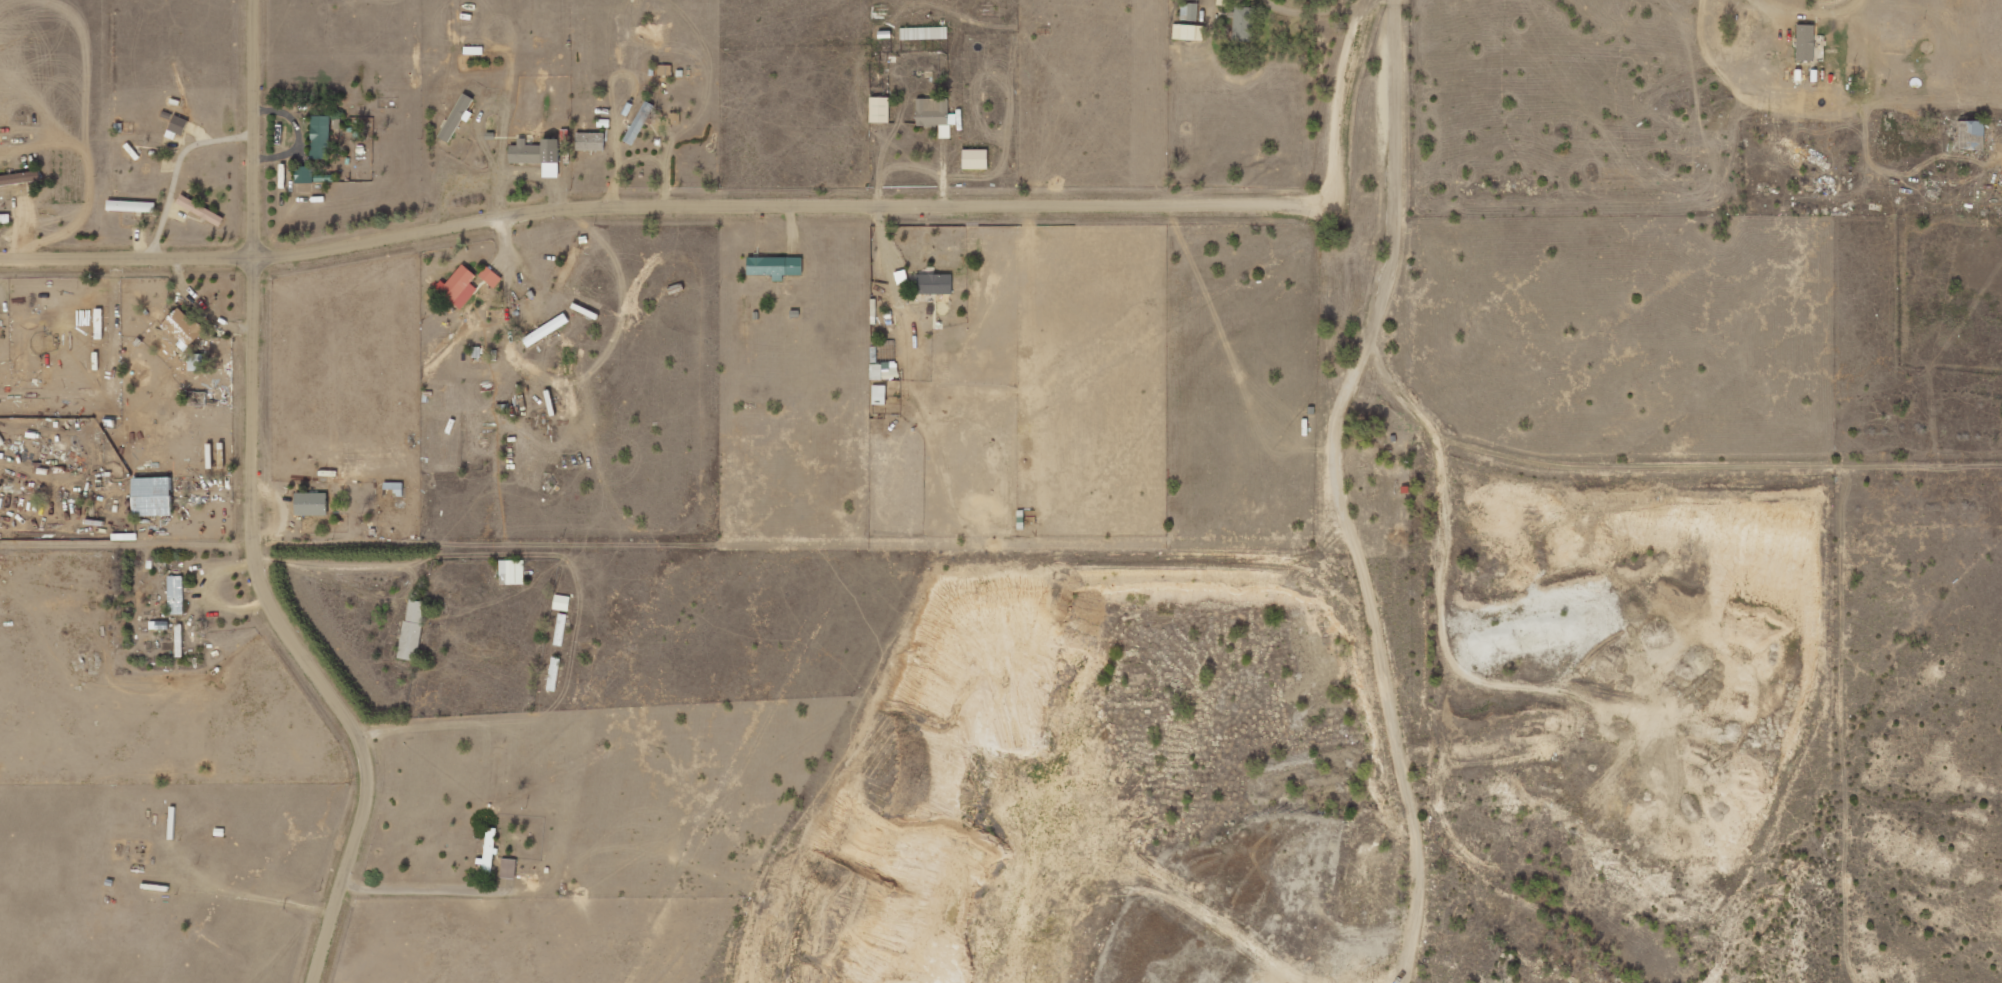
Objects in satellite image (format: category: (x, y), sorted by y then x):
building: (1189, 10)
building: (1243, 23)
building: (1188, 31)
building: (924, 33)
building: (1805, 42)
road: (1708, 56)
building: (664, 70)
road: (1347, 81)
building: (879, 110)
building: (934, 114)
building: (456, 116)
building: (639, 122)
building: (177, 126)
building: (1971, 135)
building: (320, 137)
building: (590, 141)
building: (535, 151)
building: (975, 159)
building: (304, 174)
building: (19, 177)
road: (675, 204)
building: (131, 206)
building: (200, 210)
building: (774, 266)
building: (566, 269)
building: (490, 277)
building: (933, 283)
building: (458, 285)
building: (183, 327)
building: (545, 330)
building: (195, 362)
building: (883, 370)
building: (879, 394)
road: (1332, 491)
building: (151, 496)
building: (311, 503)
road: (247, 512)
road: (123, 542)
road: (330, 563)
building: (512, 571)
building: (175, 595)
building: (561, 603)
building: (412, 630)
building: (560, 630)
building: (553, 674)
building: (488, 852)
building: (508, 868)

